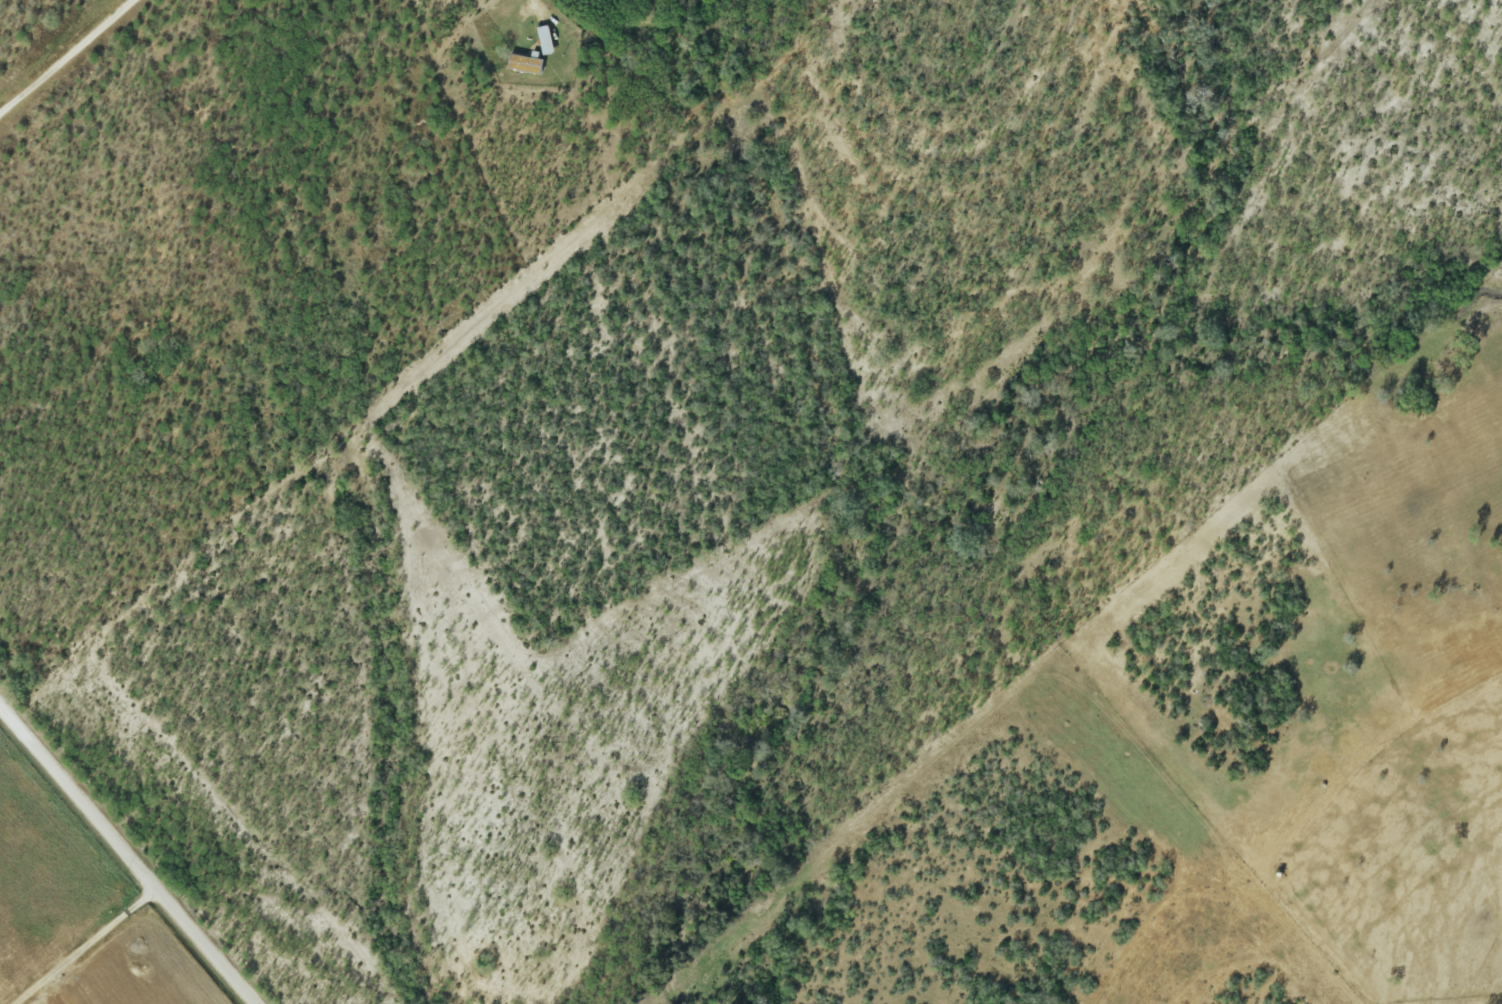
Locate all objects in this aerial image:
road: (69, 59)
road: (133, 853)
road: (90, 944)

